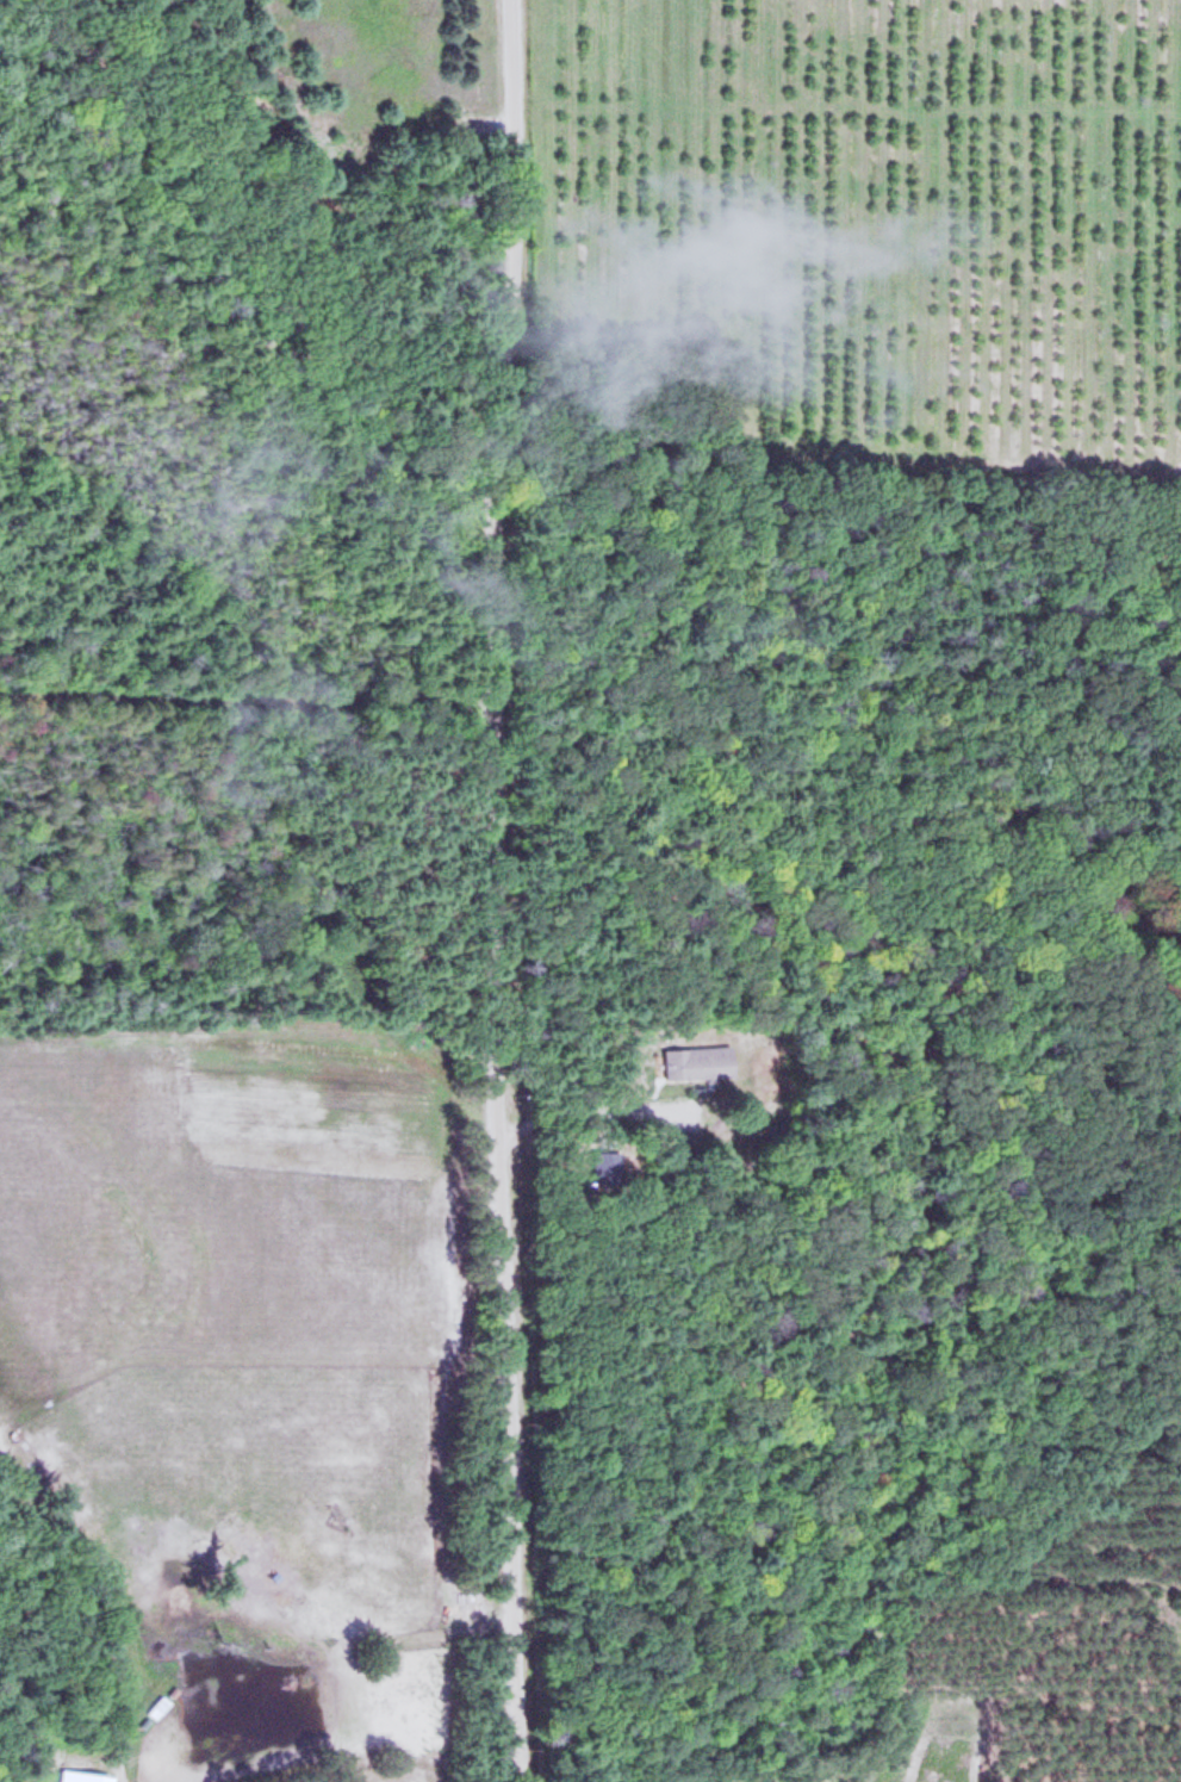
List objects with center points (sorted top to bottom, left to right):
road: (222, 58)
road: (304, 123)
parking lot: (470, 128)
road: (478, 131)
road: (272, 209)
park: (253, 359)
road: (244, 698)
road: (491, 890)
building: (700, 1062)
building: (160, 1705)
building: (95, 1776)

